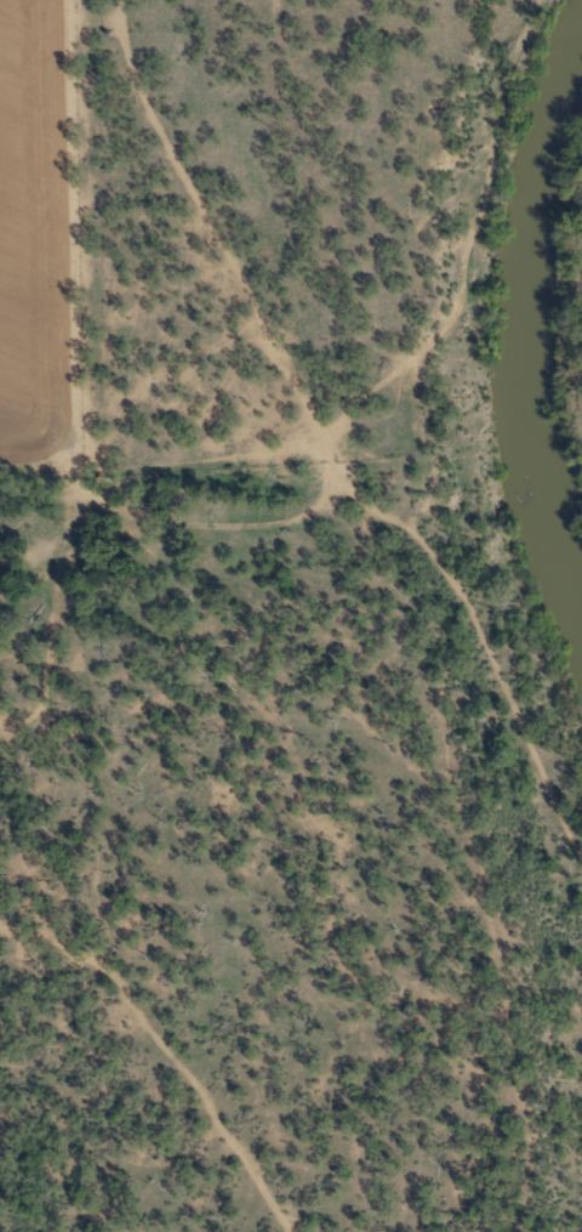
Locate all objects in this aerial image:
river: (518, 267)

